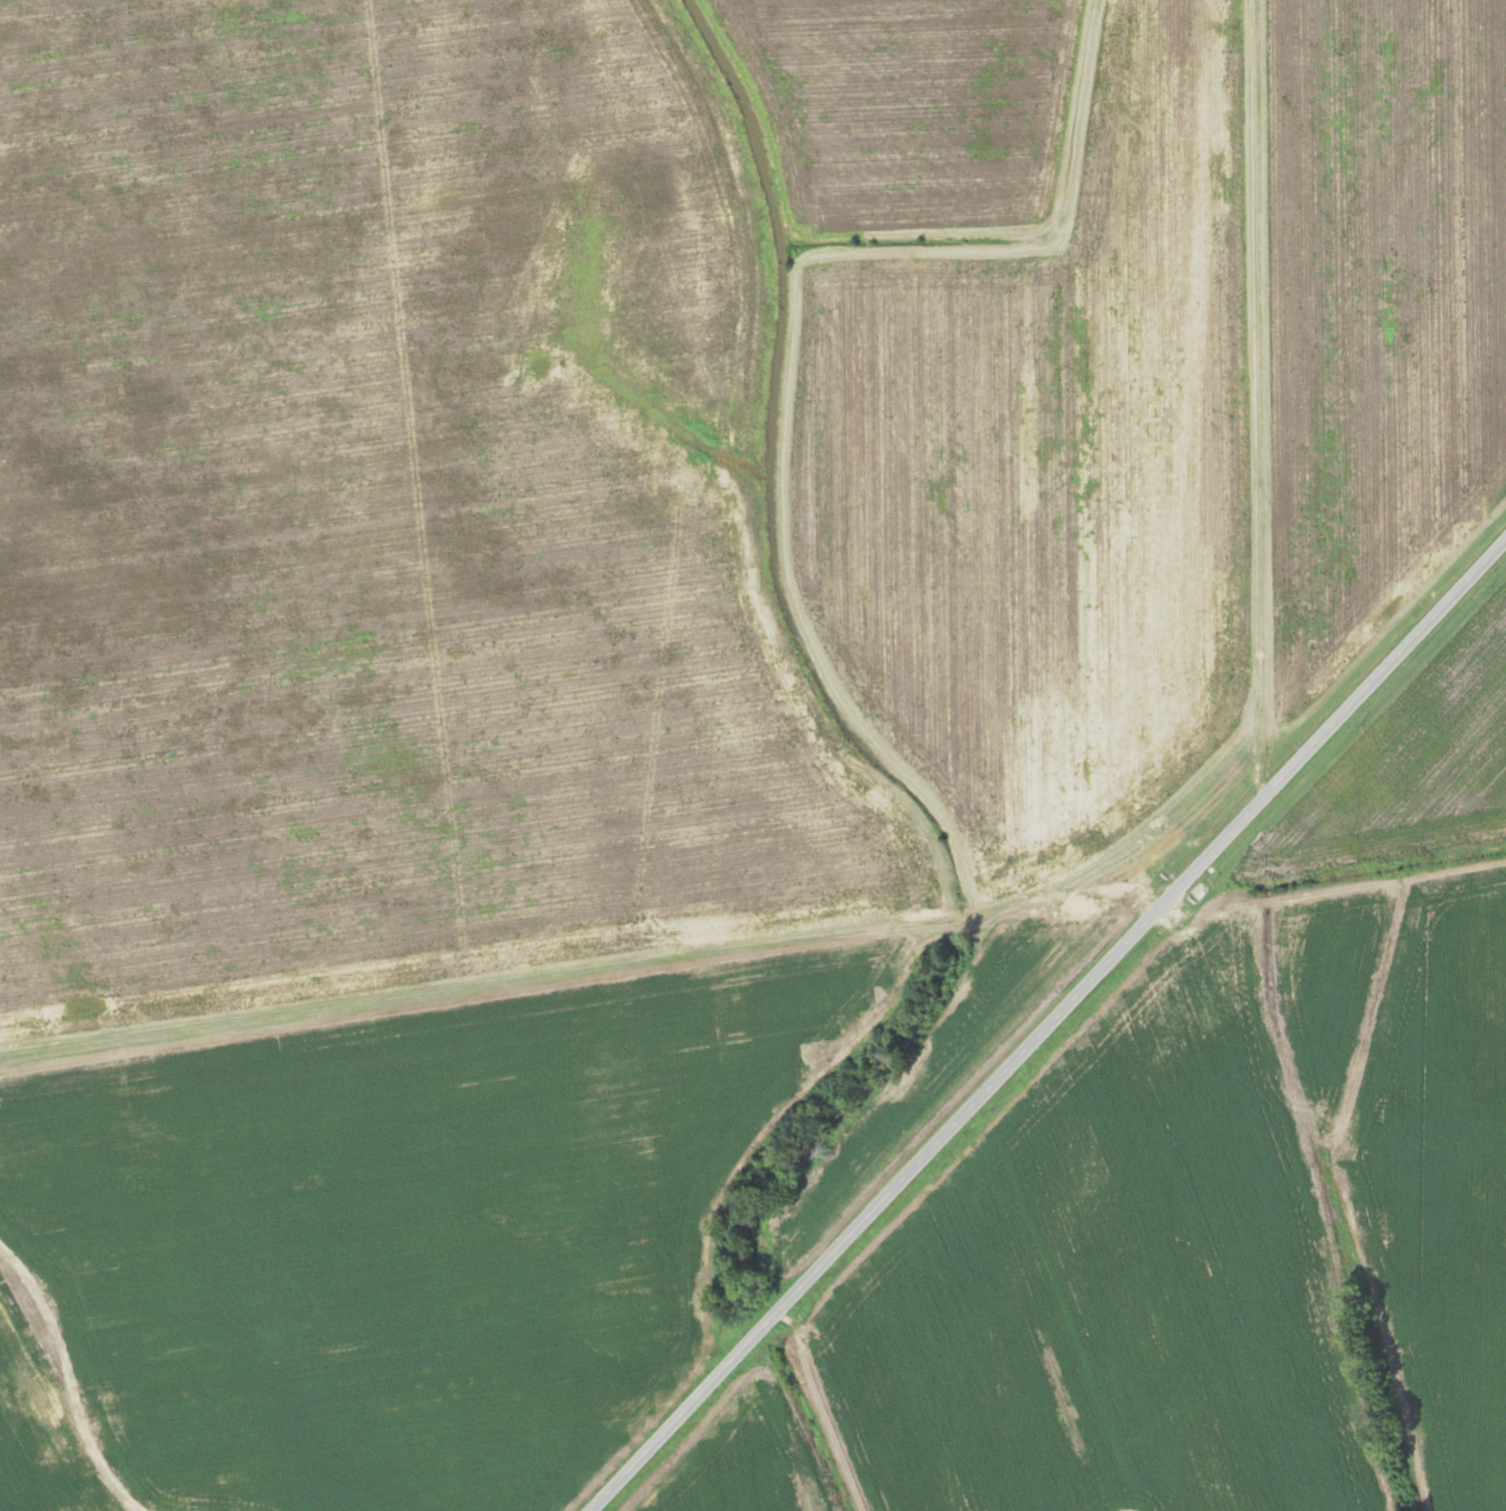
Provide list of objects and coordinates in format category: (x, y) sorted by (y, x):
road: (1040, 970)
road: (1051, 1020)

